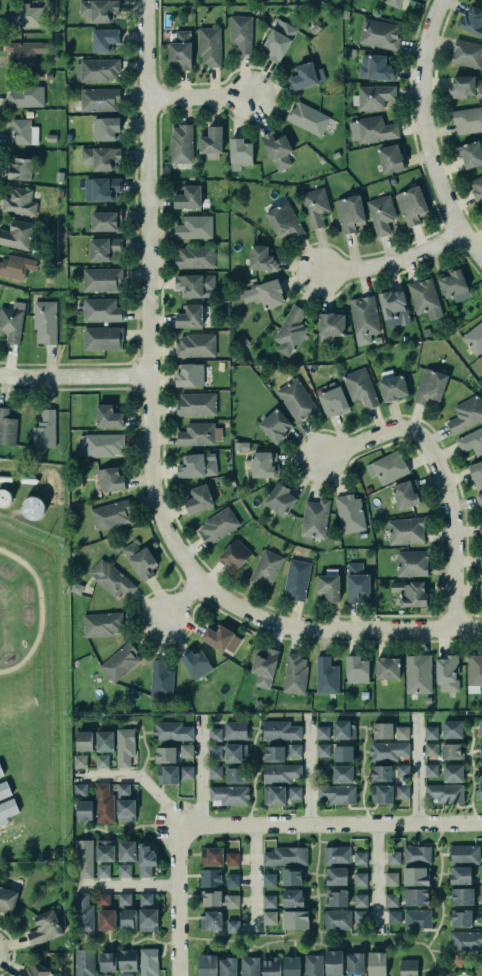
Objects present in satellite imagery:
building: (409, 0)
building: (393, 2)
building: (98, 10)
building: (26, 15)
building: (473, 20)
building: (240, 32)
building: (379, 33)
building: (104, 39)
building: (278, 39)
building: (209, 46)
building: (181, 50)
building: (466, 52)
building: (25, 53)
building: (375, 67)
building: (97, 70)
building: (306, 76)
building: (464, 86)
building: (26, 95)
building: (375, 95)
road: (197, 98)
building: (99, 100)
building: (466, 118)
building: (310, 119)
building: (106, 128)
building: (375, 129)
building: (22, 132)
road: (426, 136)
building: (211, 140)
building: (181, 144)
building: (277, 149)
building: (470, 152)
building: (240, 153)
building: (101, 157)
building: (390, 158)
building: (21, 168)
building: (101, 188)
building: (477, 188)
building: (188, 197)
building: (19, 202)
building: (412, 205)
building: (315, 207)
building: (481, 211)
building: (349, 213)
building: (381, 214)
building: (106, 220)
building: (284, 220)
building: (194, 227)
building: (17, 234)
building: (104, 248)
building: (194, 257)
building: (261, 259)
road: (391, 261)
building: (13, 267)
building: (102, 279)
building: (453, 283)
building: (195, 285)
building: (268, 293)
road: (145, 297)
building: (425, 297)
building: (395, 306)
building: (101, 310)
building: (364, 315)
building: (190, 317)
building: (45, 320)
building: (11, 323)
building: (331, 323)
building: (291, 330)
building: (102, 337)
building: (474, 338)
building: (195, 345)
road: (72, 375)
building: (189, 375)
building: (431, 385)
building: (360, 387)
building: (393, 387)
building: (296, 399)
building: (333, 401)
building: (196, 403)
building: (466, 414)
building: (108, 416)
building: (275, 425)
building: (7, 427)
building: (45, 430)
building: (196, 433)
building: (471, 440)
building: (103, 443)
building: (264, 464)
building: (197, 465)
building: (388, 467)
road: (437, 474)
building: (476, 474)
building: (110, 478)
building: (406, 494)
building: (199, 498)
building: (280, 500)
building: (479, 500)
building: (349, 513)
building: (111, 514)
building: (314, 519)
building: (218, 525)
building: (406, 529)
building: (480, 530)
building: (231, 550)
building: (138, 558)
building: (480, 560)
building: (412, 562)
building: (264, 567)
building: (109, 577)
building: (296, 579)
building: (357, 582)
building: (329, 586)
building: (411, 593)
building: (481, 597)
road: (180, 600)
building: (101, 623)
road: (333, 628)
building: (219, 636)
building: (118, 661)
building: (194, 661)
building: (264, 668)
building: (387, 668)
building: (356, 669)
building: (474, 670)
building: (294, 673)
building: (158, 674)
building: (326, 674)
building: (418, 674)
building: (447, 674)
road: (139, 726)
building: (481, 727)
building: (280, 729)
building: (344, 729)
building: (452, 729)
building: (235, 730)
building: (171, 731)
building: (383, 731)
building: (322, 732)
building: (430, 732)
building: (401, 733)
building: (215, 734)
building: (84, 741)
building: (104, 741)
building: (124, 746)
building: (481, 747)
building: (431, 749)
building: (186, 750)
building: (294, 750)
building: (322, 750)
building: (215, 751)
building: (388, 751)
building: (451, 751)
building: (235, 753)
building: (343, 753)
building: (273, 754)
building: (165, 755)
building: (80, 761)
building: (102, 761)
road: (307, 767)
road: (415, 767)
road: (198, 768)
building: (479, 769)
building: (402, 770)
building: (431, 770)
road: (254, 771)
building: (323, 771)
building: (186, 772)
building: (215, 772)
building: (280, 773)
building: (381, 773)
building: (453, 773)
building: (168, 774)
building: (342, 774)
building: (236, 775)
road: (361, 775)
road: (471, 775)
road: (134, 776)
building: (4, 786)
building: (80, 789)
building: (123, 789)
building: (479, 790)
building: (402, 791)
building: (294, 792)
building: (445, 793)
building: (336, 794)
building: (382, 794)
building: (229, 795)
building: (274, 795)
building: (104, 803)
building: (7, 809)
building: (84, 810)
building: (126, 810)
road: (330, 822)
road: (129, 829)
building: (105, 850)
building: (127, 851)
building: (464, 854)
building: (336, 855)
building: (417, 855)
building: (212, 856)
building: (285, 856)
building: (83, 857)
building: (393, 857)
building: (232, 858)
building: (360, 858)
building: (146, 860)
building: (102, 870)
building: (124, 870)
building: (460, 875)
building: (337, 876)
road: (375, 876)
building: (416, 876)
road: (251, 877)
building: (481, 877)
building: (210, 878)
building: (391, 878)
building: (360, 879)
building: (232, 880)
building: (269, 880)
road: (314, 883)
road: (125, 884)
road: (437, 886)
building: (462, 896)
building: (293, 897)
building: (416, 897)
building: (124, 898)
building: (145, 898)
road: (179, 898)
building: (337, 898)
building: (219, 899)
building: (391, 899)
building: (481, 899)
building: (7, 900)
building: (269, 900)
building: (360, 900)
building: (104, 910)
building: (83, 914)
building: (269, 916)
building: (359, 916)
building: (394, 916)
building: (462, 918)
building: (128, 919)
building: (148, 919)
building: (337, 919)
building: (417, 919)
building: (210, 920)
building: (295, 920)
building: (481, 920)
building: (44, 926)
building: (233, 926)
building: (466, 941)
road: (131, 942)
road: (319, 945)
building: (106, 958)
building: (126, 958)
building: (82, 961)
building: (147, 961)
building: (333, 963)
building: (355, 963)
building: (377, 964)
building: (271, 965)
building: (313, 965)
building: (204, 966)
building: (228, 966)
building: (250, 966)
building: (291, 966)
building: (408, 967)
building: (34, 969)
building: (102, 974)
building: (123, 974)
road: (460, 975)

